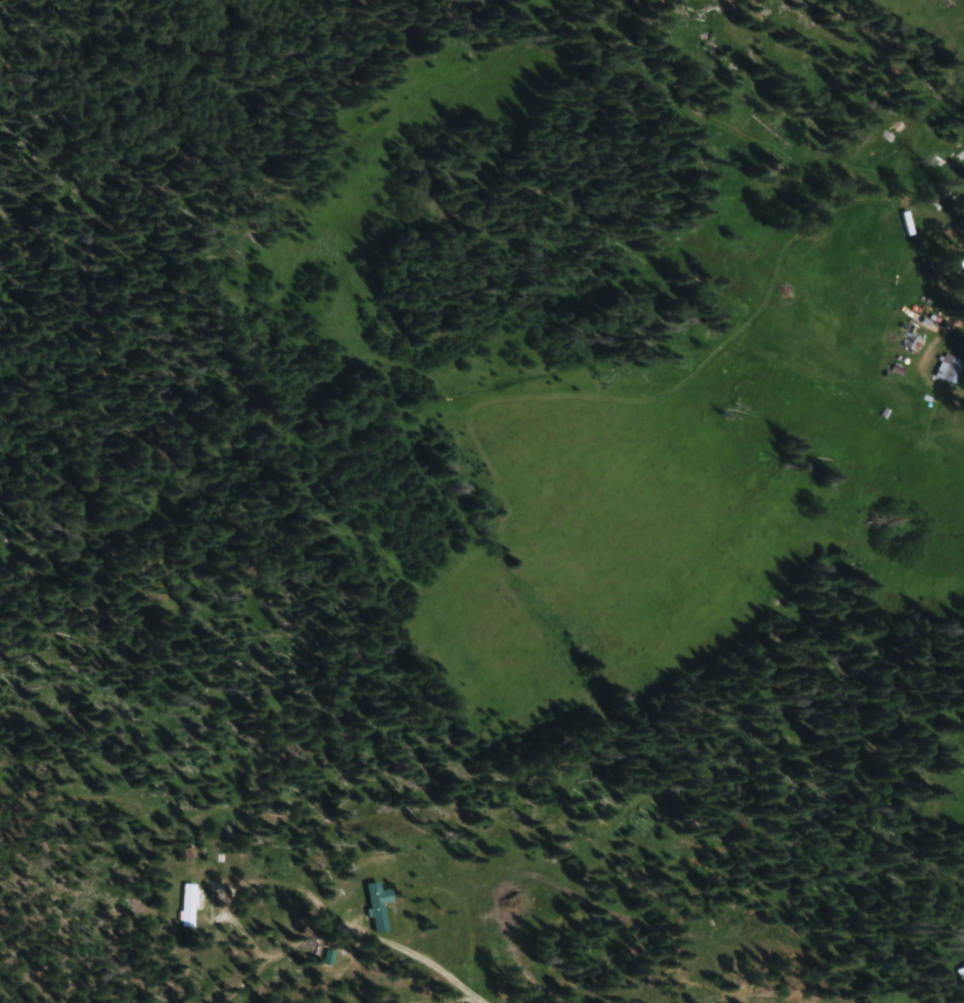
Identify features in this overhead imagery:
building: (948, 369)
building: (189, 905)
building: (379, 906)
road: (248, 939)
building: (959, 975)
road: (417, 986)

